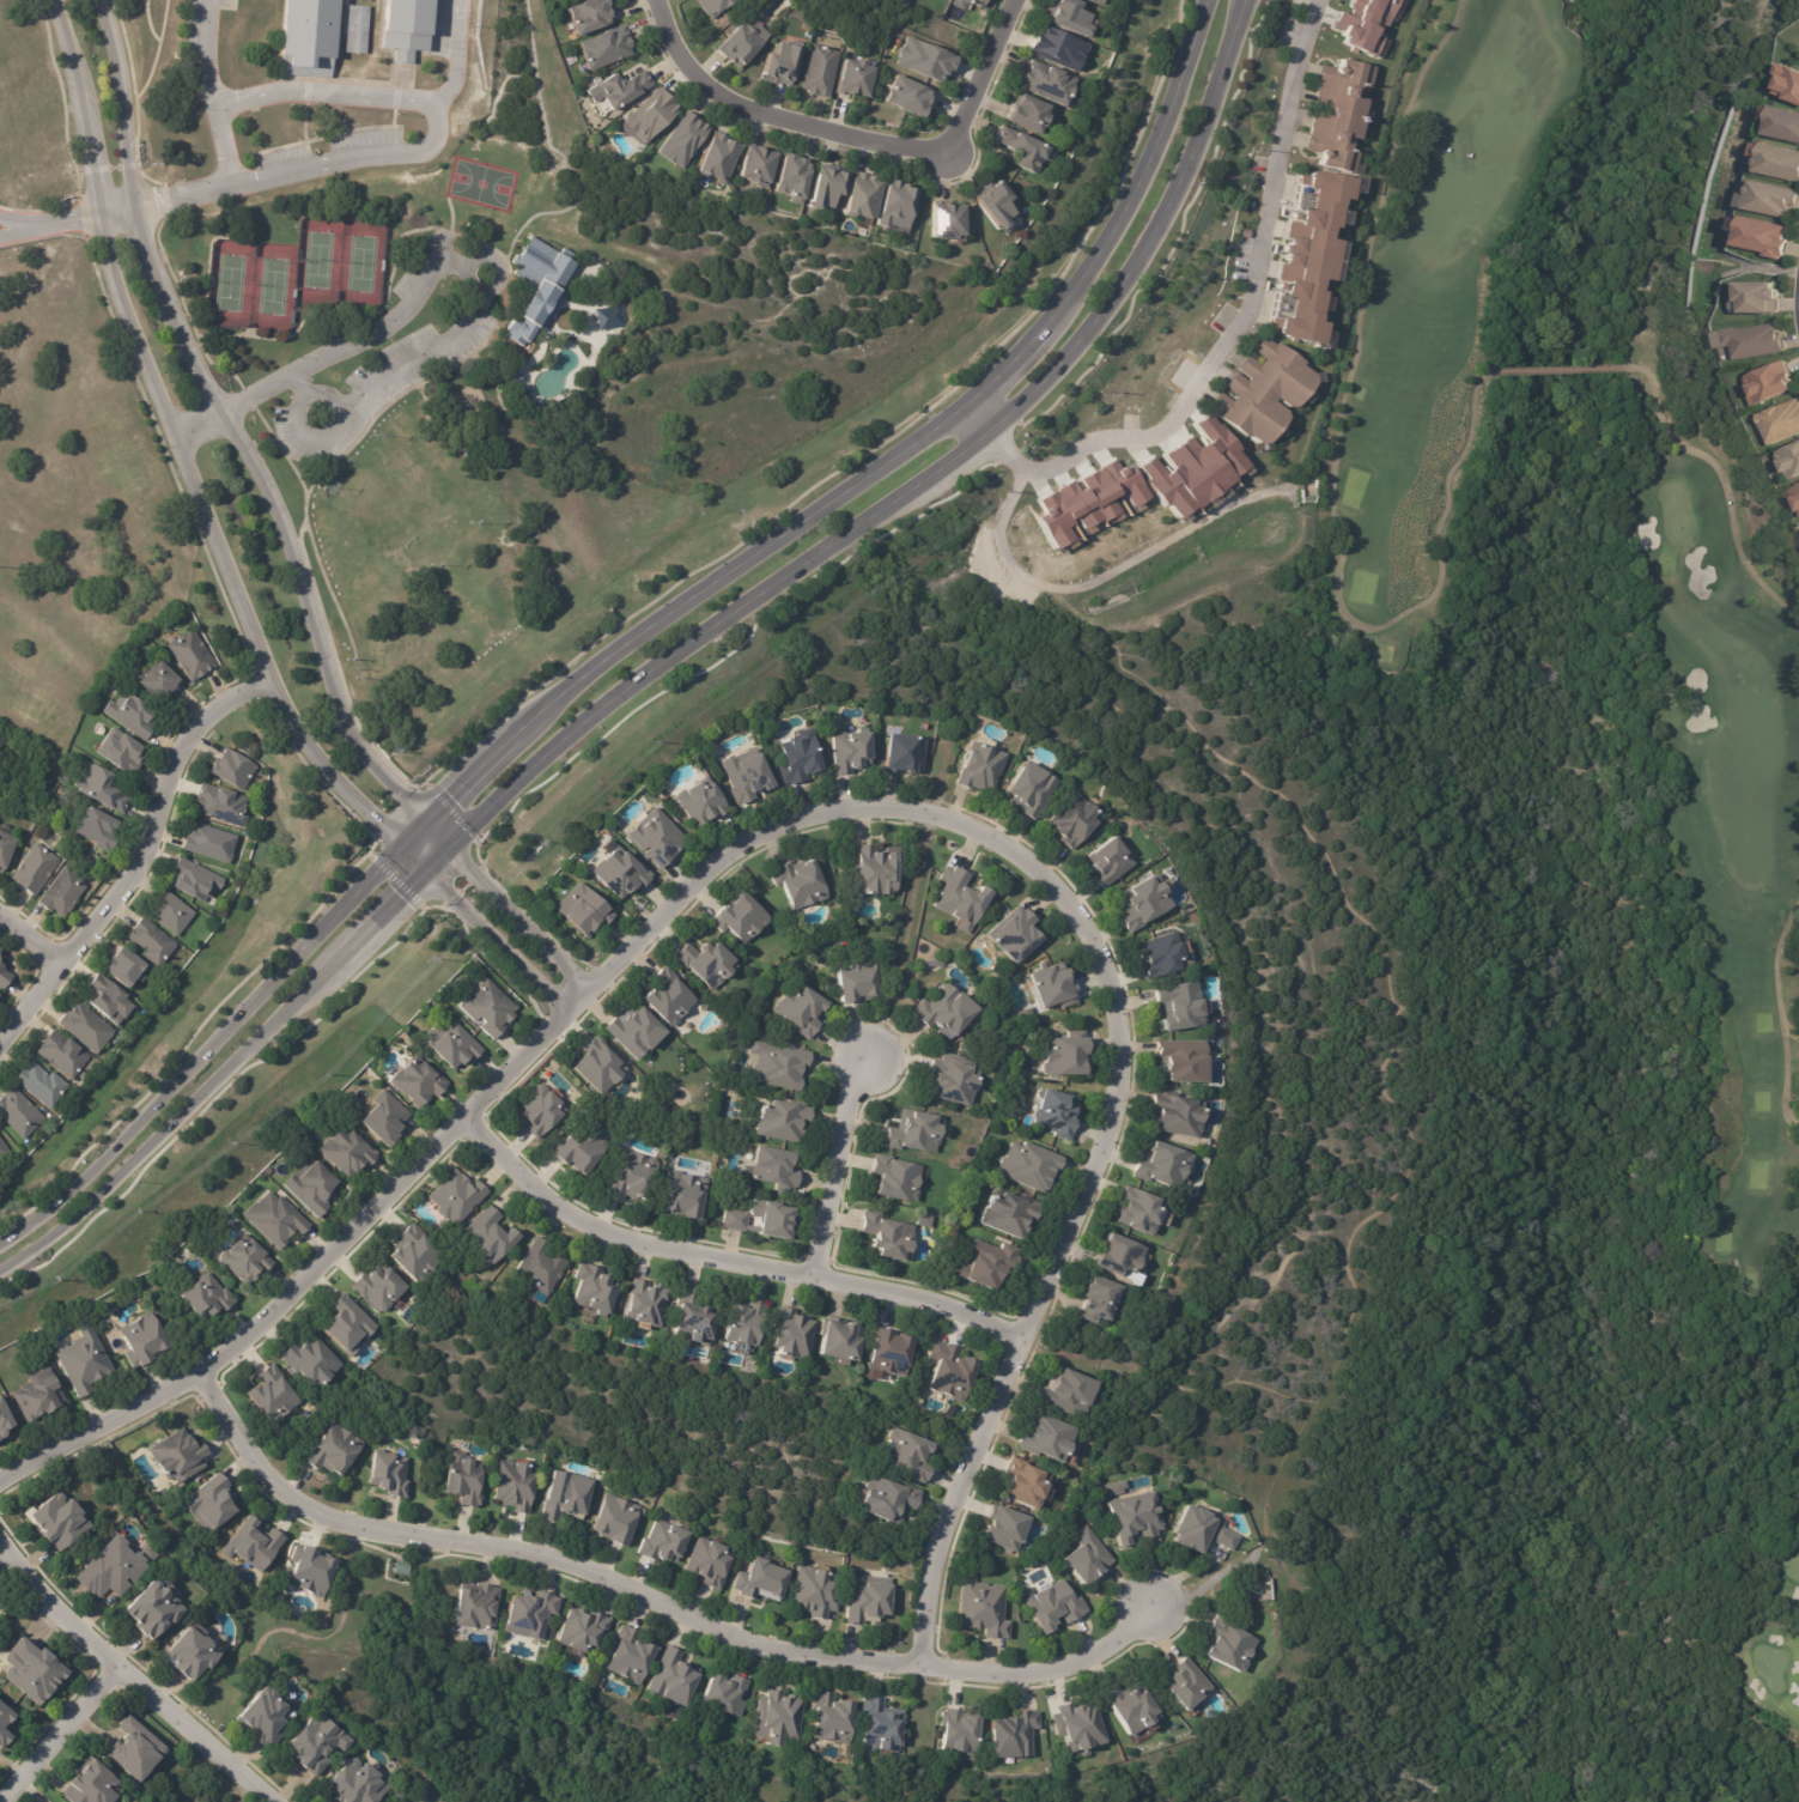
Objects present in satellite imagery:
building: (944, 0)
building: (948, 0)
building: (1095, 1)
building: (1101, 1)
building: (968, 2)
building: (712, 6)
building: (1072, 14)
building: (590, 16)
building: (406, 22)
building: (1362, 24)
building: (358, 29)
building: (308, 30)
building: (744, 41)
building: (608, 47)
building: (1060, 47)
building: (925, 59)
building: (782, 66)
building: (822, 69)
building: (857, 79)
building: (1051, 83)
building: (1786, 83)
building: (620, 89)
road: (329, 93)
road: (215, 95)
building: (910, 95)
building: (1335, 108)
building: (1031, 113)
building: (654, 114)
building: (1780, 123)
road: (852, 128)
building: (685, 139)
building: (1022, 147)
building: (722, 156)
building: (1775, 162)
road: (357, 164)
building: (759, 164)
building: (795, 178)
park: (480, 183)
building: (826, 187)
building: (863, 195)
building: (1767, 199)
building: (993, 201)
building: (898, 205)
road: (113, 216)
building: (947, 219)
road: (43, 222)
road: (43, 231)
building: (1761, 237)
building: (1301, 253)
park: (317, 259)
park: (360, 262)
park: (229, 283)
park: (272, 285)
building: (540, 287)
road: (480, 297)
building: (1756, 298)
building: (606, 316)
road: (1228, 339)
building: (1754, 340)
building: (1769, 383)
building: (1257, 387)
park: (554, 394)
road: (326, 401)
building: (1780, 421)
building: (1789, 461)
building: (1793, 496)
road: (287, 530)
road: (211, 562)
road: (1102, 575)
road: (638, 632)
park: (1708, 637)
building: (192, 655)
road: (667, 659)
building: (159, 682)
building: (132, 715)
building: (853, 748)
building: (907, 751)
building: (121, 752)
building: (803, 757)
building: (983, 766)
building: (233, 770)
building: (746, 776)
building: (1034, 788)
building: (102, 790)
building: (704, 801)
building: (221, 806)
traffic signals: (421, 818)
road: (834, 818)
building: (1077, 818)
building: (98, 830)
building: (657, 837)
traffic signals: (448, 842)
building: (211, 844)
traffic signals: (395, 848)
building: (5, 851)
building: (1110, 861)
road: (135, 864)
building: (876, 868)
traffic signals: (418, 869)
building: (35, 870)
building: (621, 873)
building: (195, 881)
building: (800, 886)
building: (63, 894)
building: (962, 898)
building: (1148, 902)
building: (585, 909)
building: (171, 915)
building: (742, 920)
building: (1016, 933)
road: (31, 941)
building: (152, 944)
building: (0, 952)
building: (1166, 953)
building: (707, 964)
building: (126, 971)
building: (857, 978)
building: (5, 979)
building: (1056, 985)
building: (669, 999)
building: (109, 1002)
building: (1185, 1003)
building: (490, 1008)
building: (947, 1008)
building: (802, 1009)
building: (86, 1030)
building: (637, 1031)
building: (454, 1044)
building: (1068, 1055)
building: (62, 1056)
building: (1187, 1060)
building: (600, 1066)
building: (782, 1066)
building: (955, 1079)
building: (419, 1081)
building: (41, 1086)
building: (541, 1109)
building: (1059, 1114)
building: (1181, 1114)
building: (19, 1115)
building: (384, 1118)
building: (784, 1120)
building: (917, 1130)
building: (578, 1147)
building: (350, 1151)
building: (2, 1152)
building: (1165, 1163)
road: (835, 1165)
building: (1032, 1165)
building: (774, 1167)
building: (634, 1176)
building: (895, 1177)
building: (314, 1187)
building: (686, 1195)
building: (457, 1196)
building: (1143, 1209)
building: (1008, 1215)
building: (276, 1219)
building: (761, 1221)
building: (886, 1233)
building: (491, 1236)
building: (417, 1254)
building: (1122, 1255)
building: (247, 1260)
building: (993, 1264)
road: (728, 1266)
building: (542, 1267)
building: (381, 1287)
building: (595, 1288)
building: (208, 1297)
building: (1102, 1299)
building: (648, 1303)
building: (693, 1318)
building: (747, 1323)
building: (348, 1324)
building: (792, 1334)
building: (844, 1339)
building: (144, 1340)
building: (894, 1352)
building: (84, 1361)
building: (312, 1361)
building: (950, 1372)
building: (1071, 1393)
building: (38, 1395)
building: (274, 1395)
building: (5, 1419)
building: (1051, 1438)
building: (335, 1451)
building: (910, 1455)
building: (180, 1457)
building: (391, 1474)
building: (466, 1479)
building: (1031, 1484)
building: (517, 1486)
building: (1118, 1488)
building: (567, 1495)
building: (889, 1500)
building: (212, 1503)
building: (1136, 1518)
building: (618, 1519)
building: (59, 1521)
building: (1009, 1528)
building: (1201, 1530)
building: (254, 1543)
building: (664, 1543)
building: (1087, 1557)
building: (710, 1563)
building: (402, 1569)
building: (113, 1570)
building: (312, 1571)
building: (759, 1580)
building: (816, 1592)
building: (870, 1600)
building: (476, 1604)
building: (1057, 1604)
road: (658, 1607)
building: (985, 1608)
building: (154, 1610)
building: (533, 1615)
building: (582, 1630)
park: (1780, 1639)
building: (1228, 1642)
building: (193, 1655)
building: (628, 1656)
building: (36, 1671)
building: (675, 1677)
road: (126, 1679)
building: (1187, 1685)
building: (725, 1693)
building: (1134, 1709)
building: (263, 1717)
building: (779, 1718)
building: (832, 1718)
building: (6, 1724)
building: (881, 1724)
building: (1081, 1728)
building: (960, 1734)
building: (1017, 1735)
road: (66, 1739)
building: (317, 1743)
building: (135, 1751)
building: (358, 1784)
building: (92, 1785)

